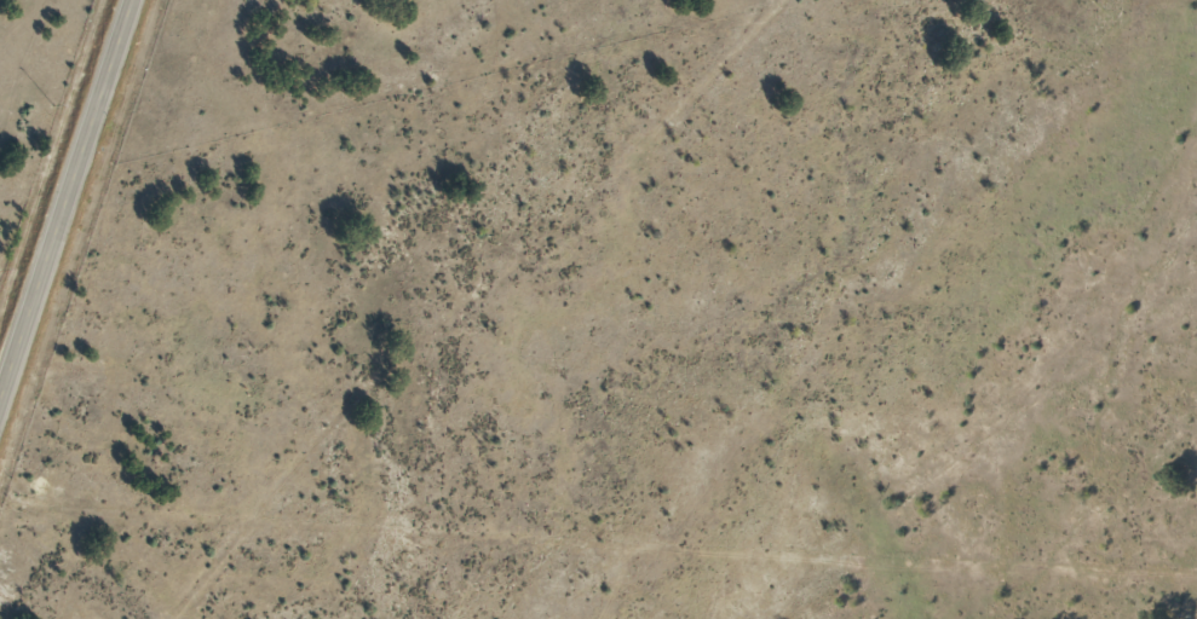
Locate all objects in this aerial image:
road: (65, 201)

